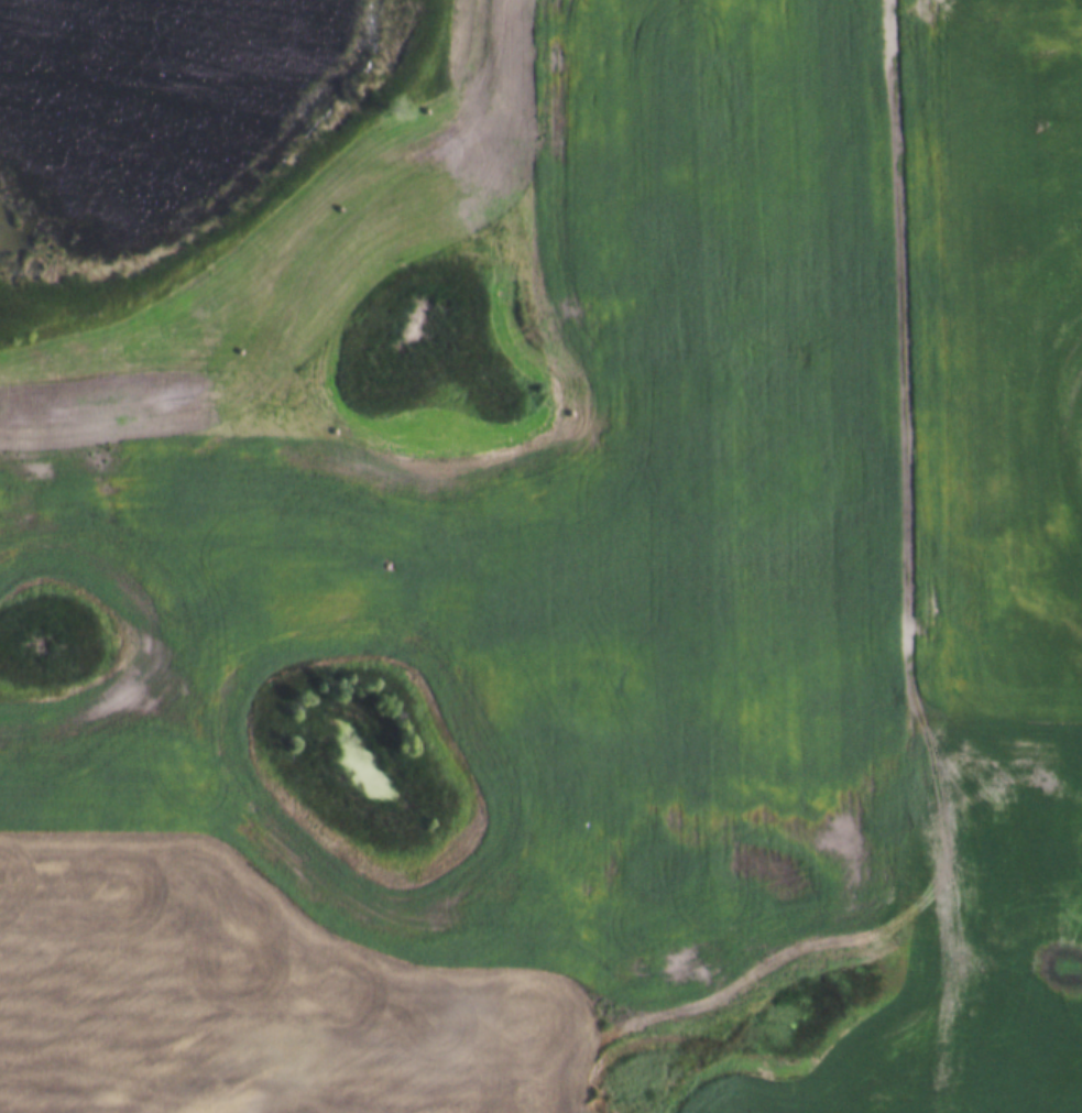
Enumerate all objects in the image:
road: (921, 541)
road: (958, 1103)

